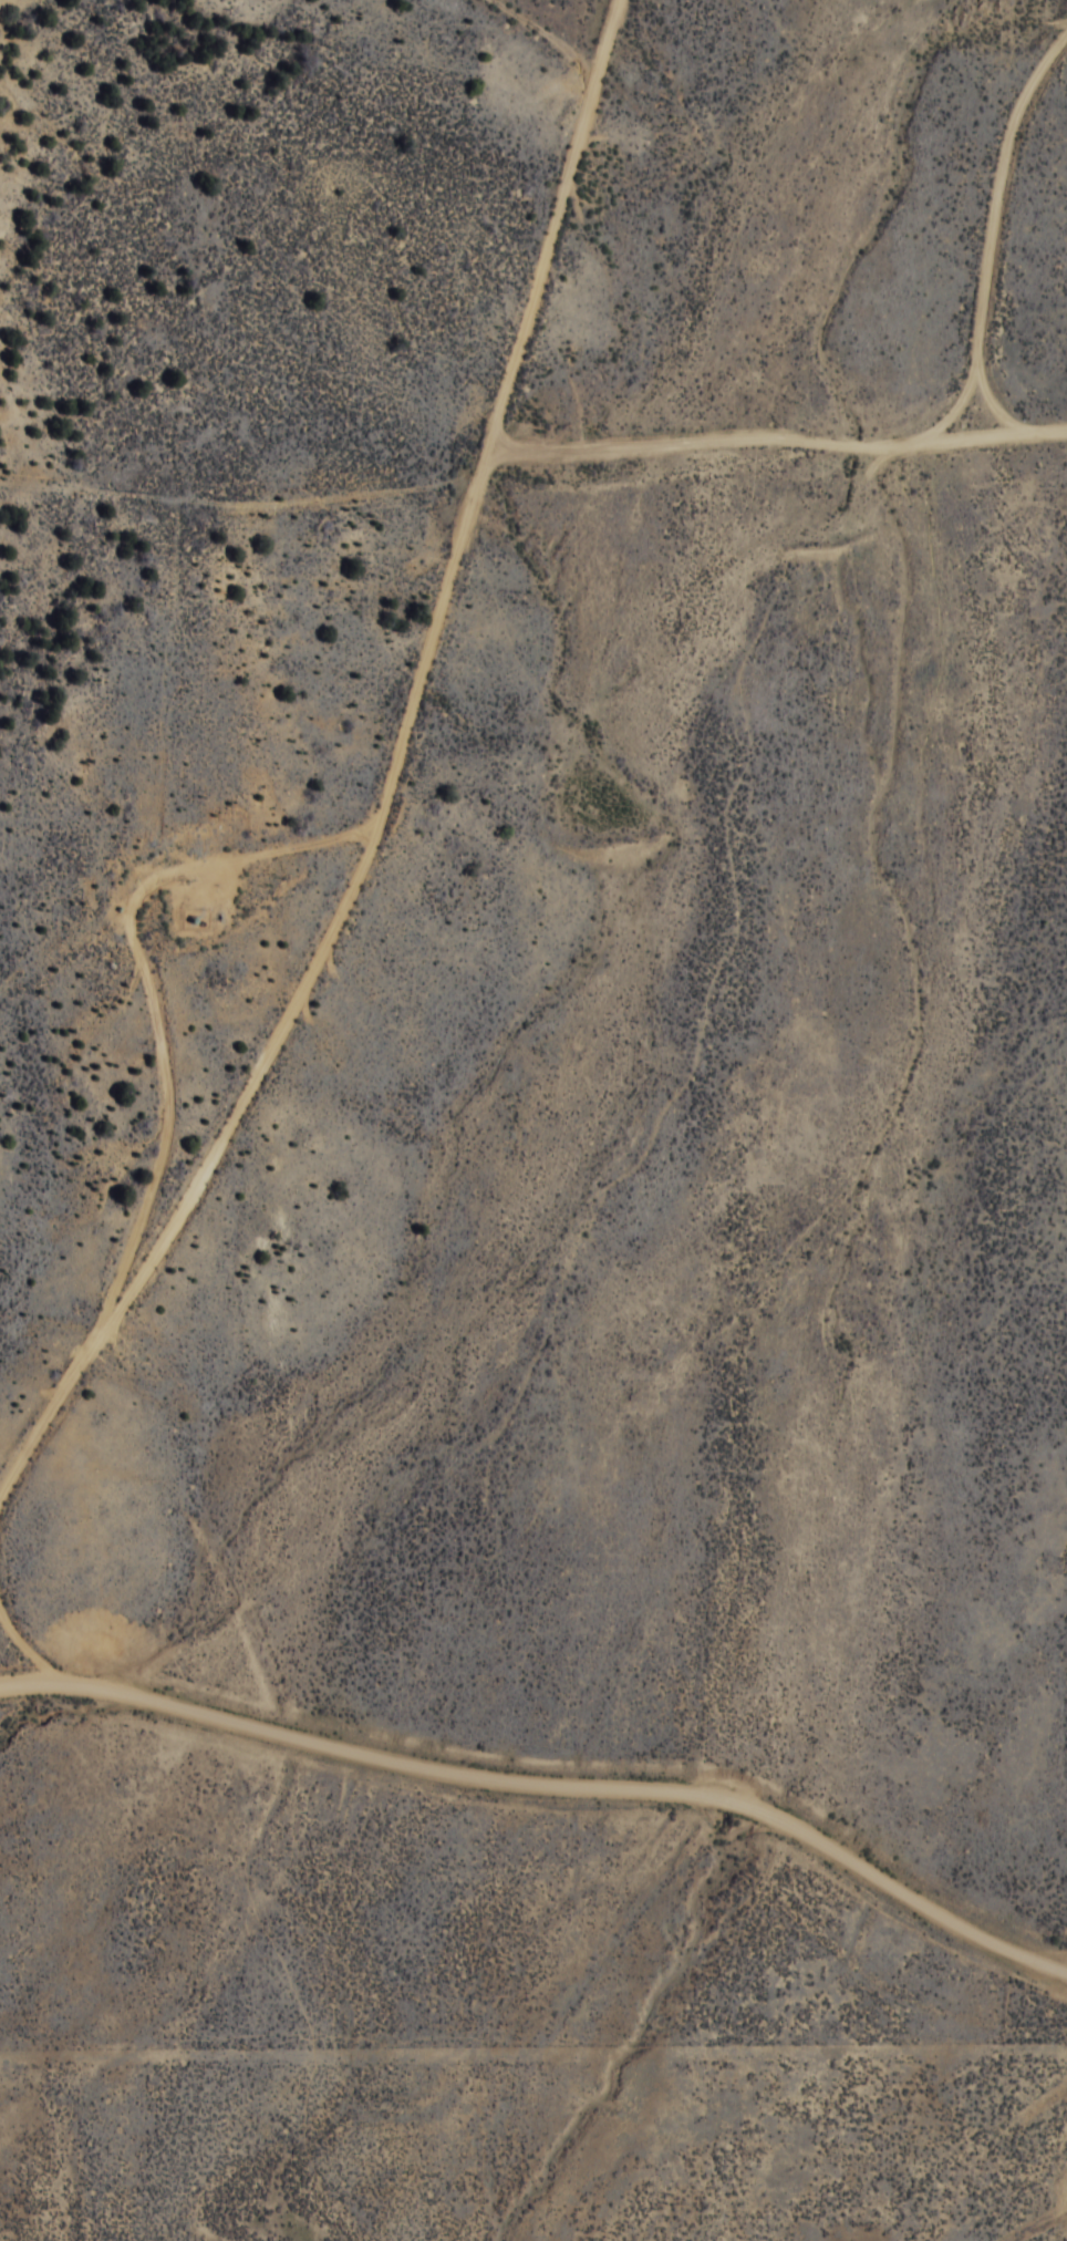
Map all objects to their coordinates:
road: (584, 24)
road: (777, 518)
road: (383, 792)
road: (542, 1776)

